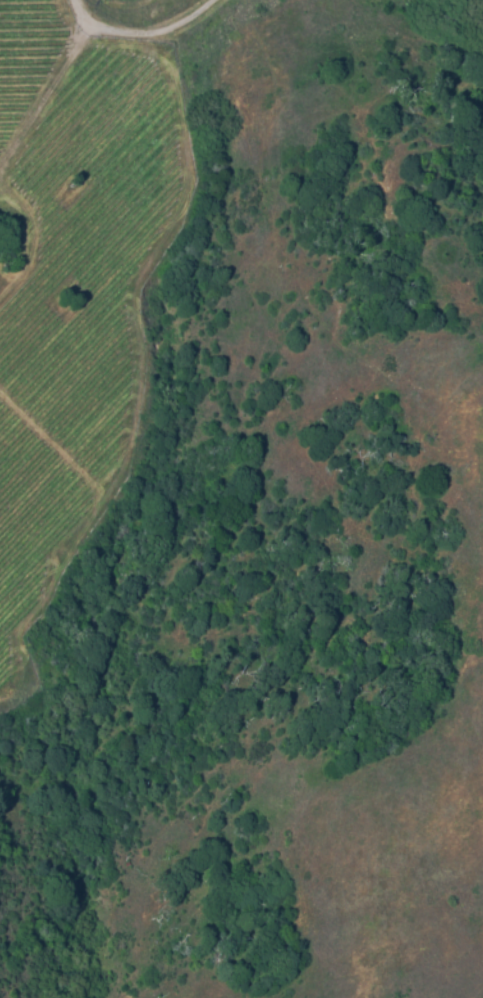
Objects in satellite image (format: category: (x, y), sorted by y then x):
crop: (23, 54)
crop: (86, 255)
crop: (30, 520)

